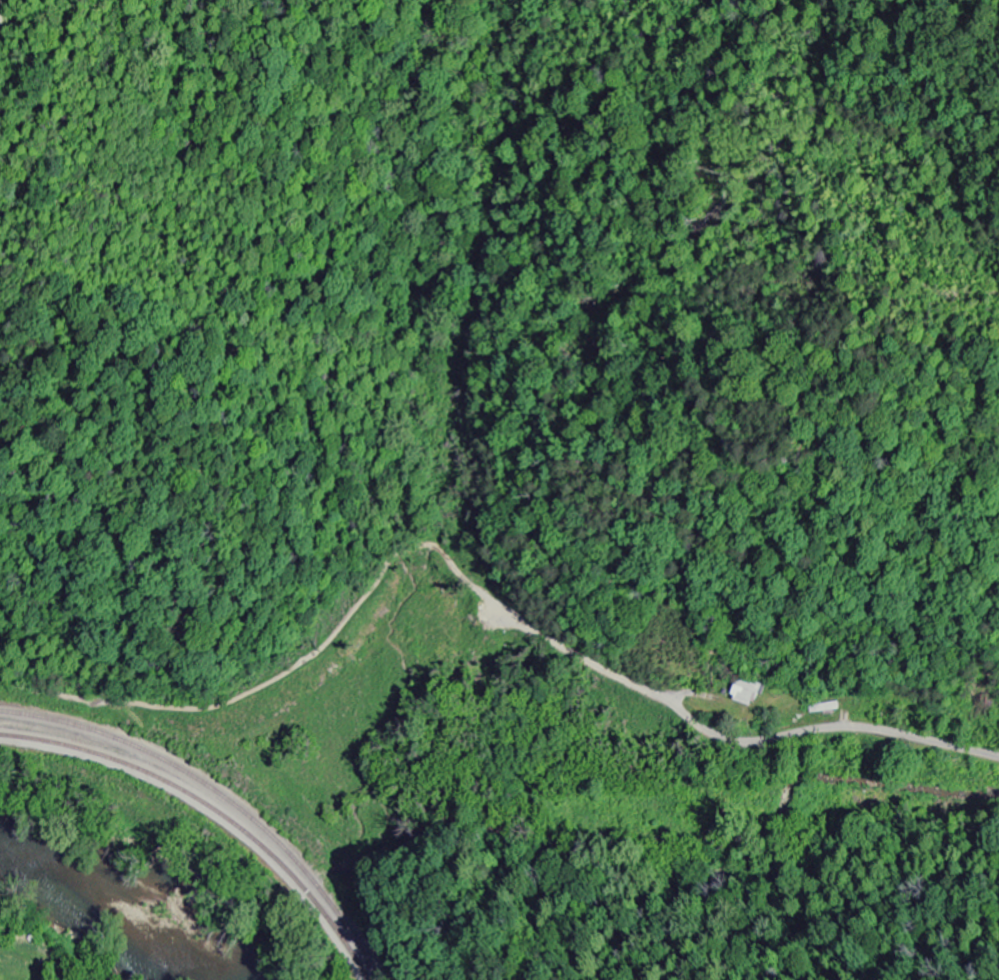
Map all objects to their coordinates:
road: (482, 588)
building: (747, 693)
railway: (222, 802)
railway: (215, 810)
river: (112, 916)

